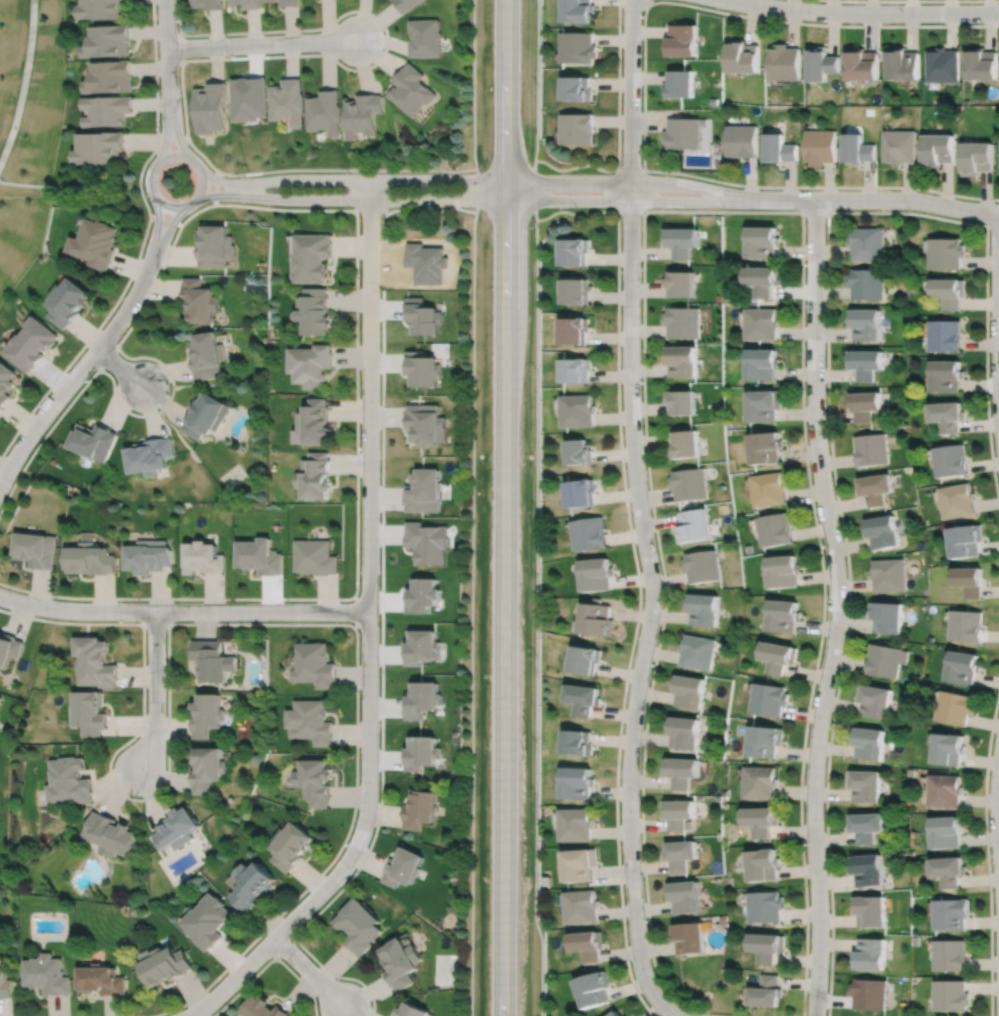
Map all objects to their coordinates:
building: (269, 0)
road: (918, 0)
road: (648, 2)
building: (246, 3)
building: (288, 3)
building: (207, 4)
building: (405, 4)
building: (102, 10)
building: (576, 11)
road: (862, 13)
road: (739, 15)
road: (178, 30)
building: (424, 38)
building: (681, 41)
building: (108, 42)
road: (260, 44)
building: (577, 48)
road: (167, 51)
road: (216, 58)
building: (742, 58)
building: (784, 63)
building: (820, 65)
building: (902, 65)
building: (981, 65)
building: (861, 66)
building: (942, 66)
building: (110, 78)
road: (23, 83)
building: (678, 85)
building: (575, 89)
building: (410, 91)
road: (631, 92)
road: (155, 95)
building: (247, 99)
building: (286, 102)
building: (713, 102)
building: (210, 108)
building: (108, 111)
building: (324, 113)
building: (361, 115)
road: (618, 126)
building: (578, 128)
park: (31, 130)
road: (176, 131)
road: (165, 132)
building: (682, 134)
road: (171, 140)
building: (741, 142)
building: (819, 147)
building: (898, 147)
building: (100, 149)
building: (777, 149)
building: (857, 150)
building: (938, 150)
building: (977, 159)
road: (196, 165)
road: (627, 169)
road: (474, 180)
road: (69, 186)
road: (820, 186)
road: (216, 187)
road: (618, 189)
road: (874, 199)
road: (470, 200)
road: (643, 204)
road: (372, 209)
road: (702, 210)
road: (815, 211)
road: (164, 219)
road: (993, 225)
road: (156, 227)
road: (167, 229)
road: (356, 235)
building: (682, 239)
building: (762, 242)
building: (867, 243)
building: (94, 245)
building: (213, 246)
building: (576, 249)
building: (946, 251)
building: (312, 255)
building: (764, 278)
building: (682, 281)
building: (866, 282)
building: (578, 289)
building: (950, 290)
building: (197, 303)
building: (67, 304)
road: (998, 308)
building: (314, 309)
building: (422, 315)
building: (683, 321)
building: (764, 321)
building: (865, 322)
building: (575, 328)
road: (97, 330)
building: (946, 334)
building: (32, 344)
building: (207, 354)
road: (108, 358)
building: (683, 359)
building: (762, 362)
building: (865, 362)
building: (310, 363)
road: (119, 367)
building: (422, 367)
building: (578, 368)
road: (79, 370)
building: (947, 374)
building: (6, 381)
road: (827, 394)
building: (682, 401)
building: (764, 404)
building: (865, 404)
building: (579, 409)
building: (948, 414)
building: (205, 415)
building: (315, 420)
building: (425, 422)
building: (93, 440)
building: (686, 443)
building: (765, 446)
building: (871, 448)
building: (581, 450)
building: (149, 455)
building: (951, 459)
building: (315, 475)
building: (690, 483)
building: (769, 488)
building: (875, 488)
building: (424, 491)
building: (582, 492)
building: (958, 500)
road: (472, 507)
road: (504, 508)
road: (535, 508)
building: (695, 525)
building: (774, 529)
building: (883, 531)
building: (590, 533)
building: (967, 540)
building: (427, 542)
building: (37, 549)
building: (148, 556)
building: (259, 556)
building: (315, 556)
building: (90, 558)
building: (203, 558)
building: (702, 565)
building: (782, 571)
road: (369, 574)
building: (598, 574)
building: (888, 574)
road: (637, 576)
building: (970, 581)
building: (421, 595)
road: (381, 601)
road: (652, 604)
road: (835, 607)
building: (703, 609)
road: (183, 610)
road: (356, 610)
building: (782, 616)
building: (886, 617)
building: (598, 618)
road: (155, 623)
road: (232, 623)
building: (966, 626)
building: (421, 647)
building: (9, 648)
building: (697, 652)
building: (778, 657)
building: (213, 659)
building: (587, 660)
building: (885, 660)
building: (95, 661)
building: (314, 665)
building: (964, 668)
road: (154, 691)
building: (689, 692)
building: (0, 696)
building: (421, 699)
building: (584, 699)
building: (768, 699)
building: (873, 701)
building: (955, 708)
building: (88, 709)
building: (207, 711)
building: (309, 720)
building: (686, 734)
building: (764, 741)
building: (578, 743)
building: (868, 744)
building: (949, 750)
building: (421, 751)
building: (207, 765)
building: (682, 771)
building: (68, 778)
building: (316, 778)
building: (578, 781)
building: (760, 783)
building: (864, 786)
building: (945, 791)
road: (998, 799)
building: (418, 805)
building: (679, 810)
building: (761, 820)
building: (577, 821)
building: (177, 825)
building: (865, 826)
building: (110, 831)
building: (946, 831)
building: (291, 842)
building: (681, 851)
road: (987, 852)
building: (580, 861)
building: (763, 861)
building: (403, 863)
building: (867, 867)
building: (949, 868)
building: (547, 878)
building: (252, 881)
building: (686, 893)
building: (582, 903)
building: (765, 904)
building: (870, 908)
building: (951, 911)
building: (208, 918)
building: (358, 923)
building: (690, 935)
building: (589, 941)
building: (766, 944)
building: (869, 952)
building: (951, 953)
building: (400, 959)
building: (165, 962)
road: (309, 971)
building: (46, 972)
road: (338, 975)
building: (101, 978)
road: (232, 978)
road: (301, 981)
building: (5, 983)
building: (594, 986)
building: (765, 989)
building: (868, 992)
building: (951, 994)
building: (265, 1007)
building: (412, 1009)
building: (617, 1013)
road: (672, 1015)

